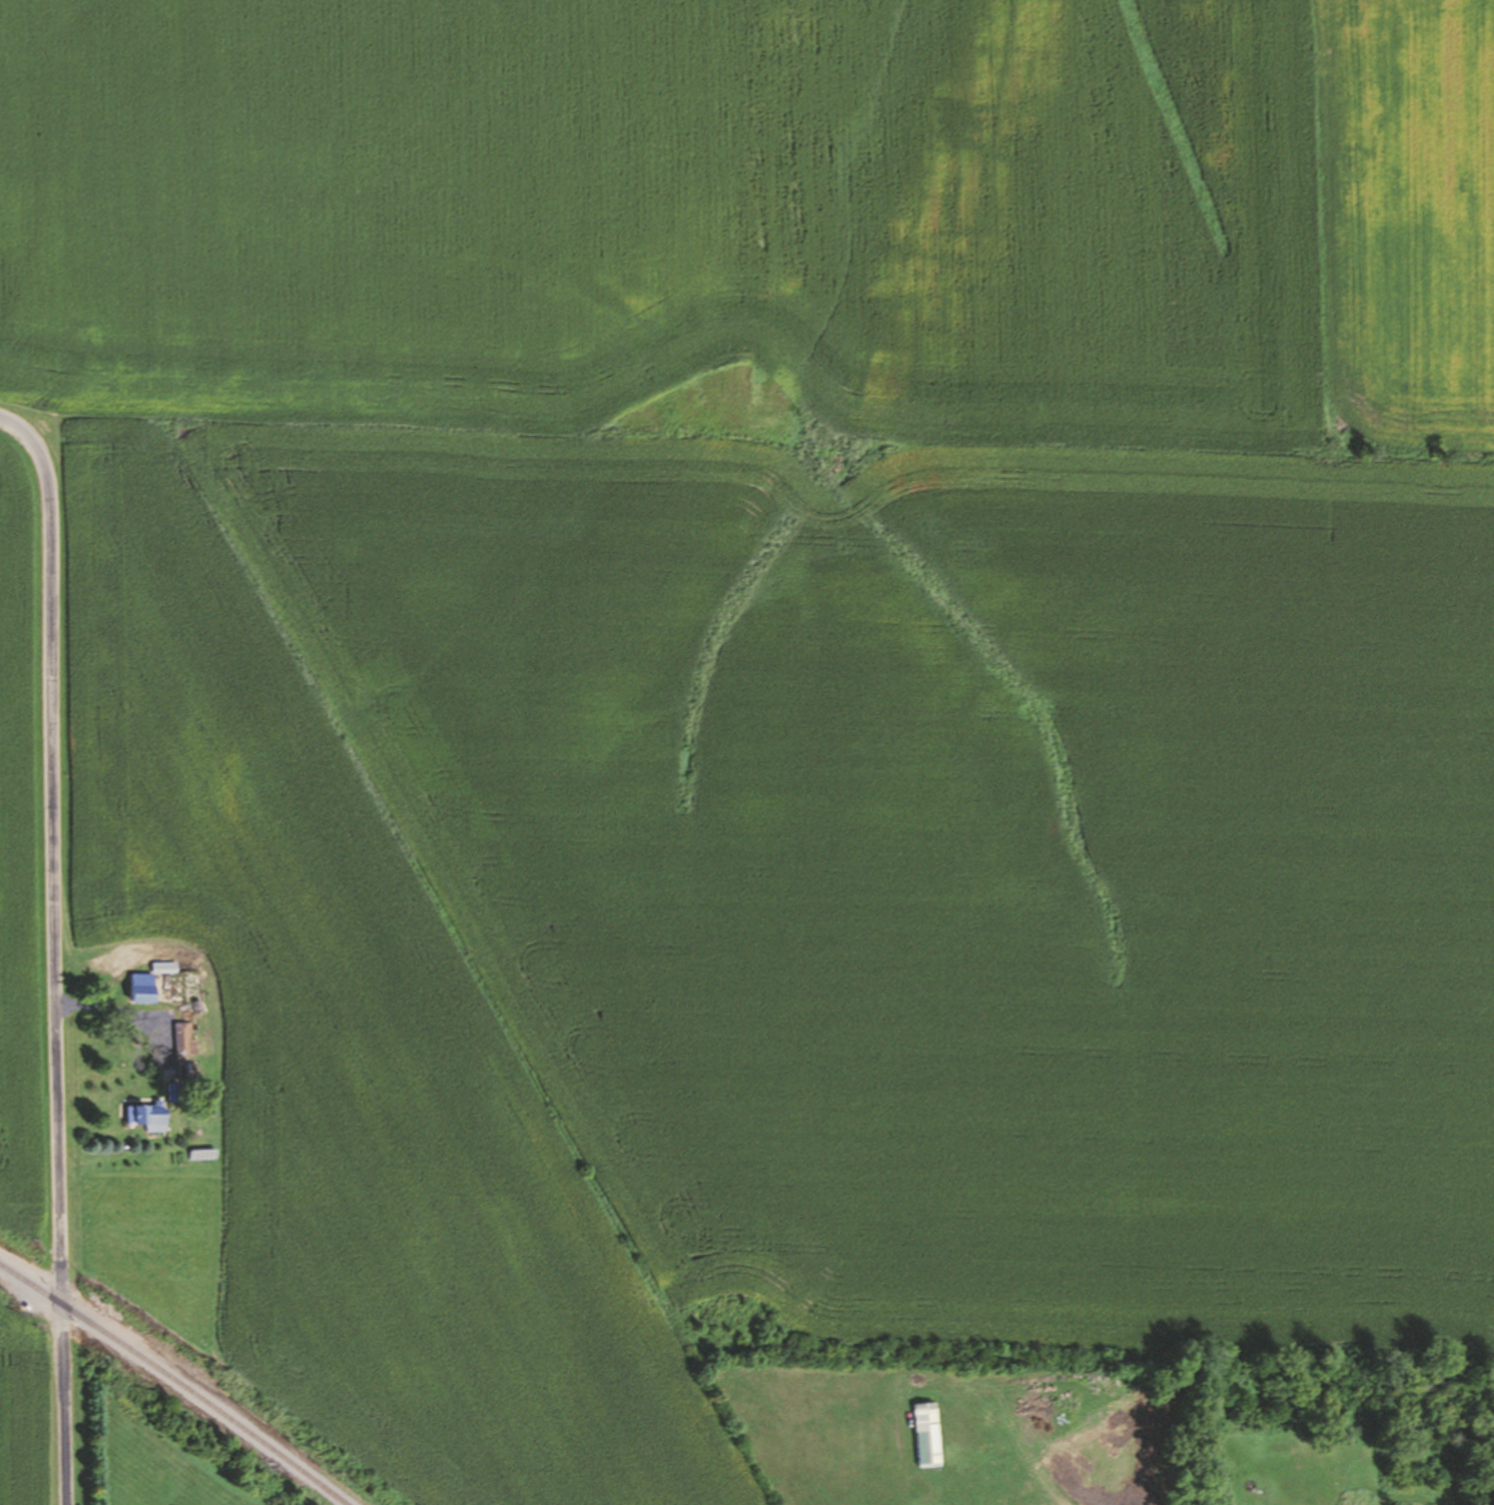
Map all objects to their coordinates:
road: (56, 950)
building: (148, 978)
building: (183, 1038)
building: (186, 1076)
building: (145, 1116)
railway: (175, 1380)
building: (925, 1434)

